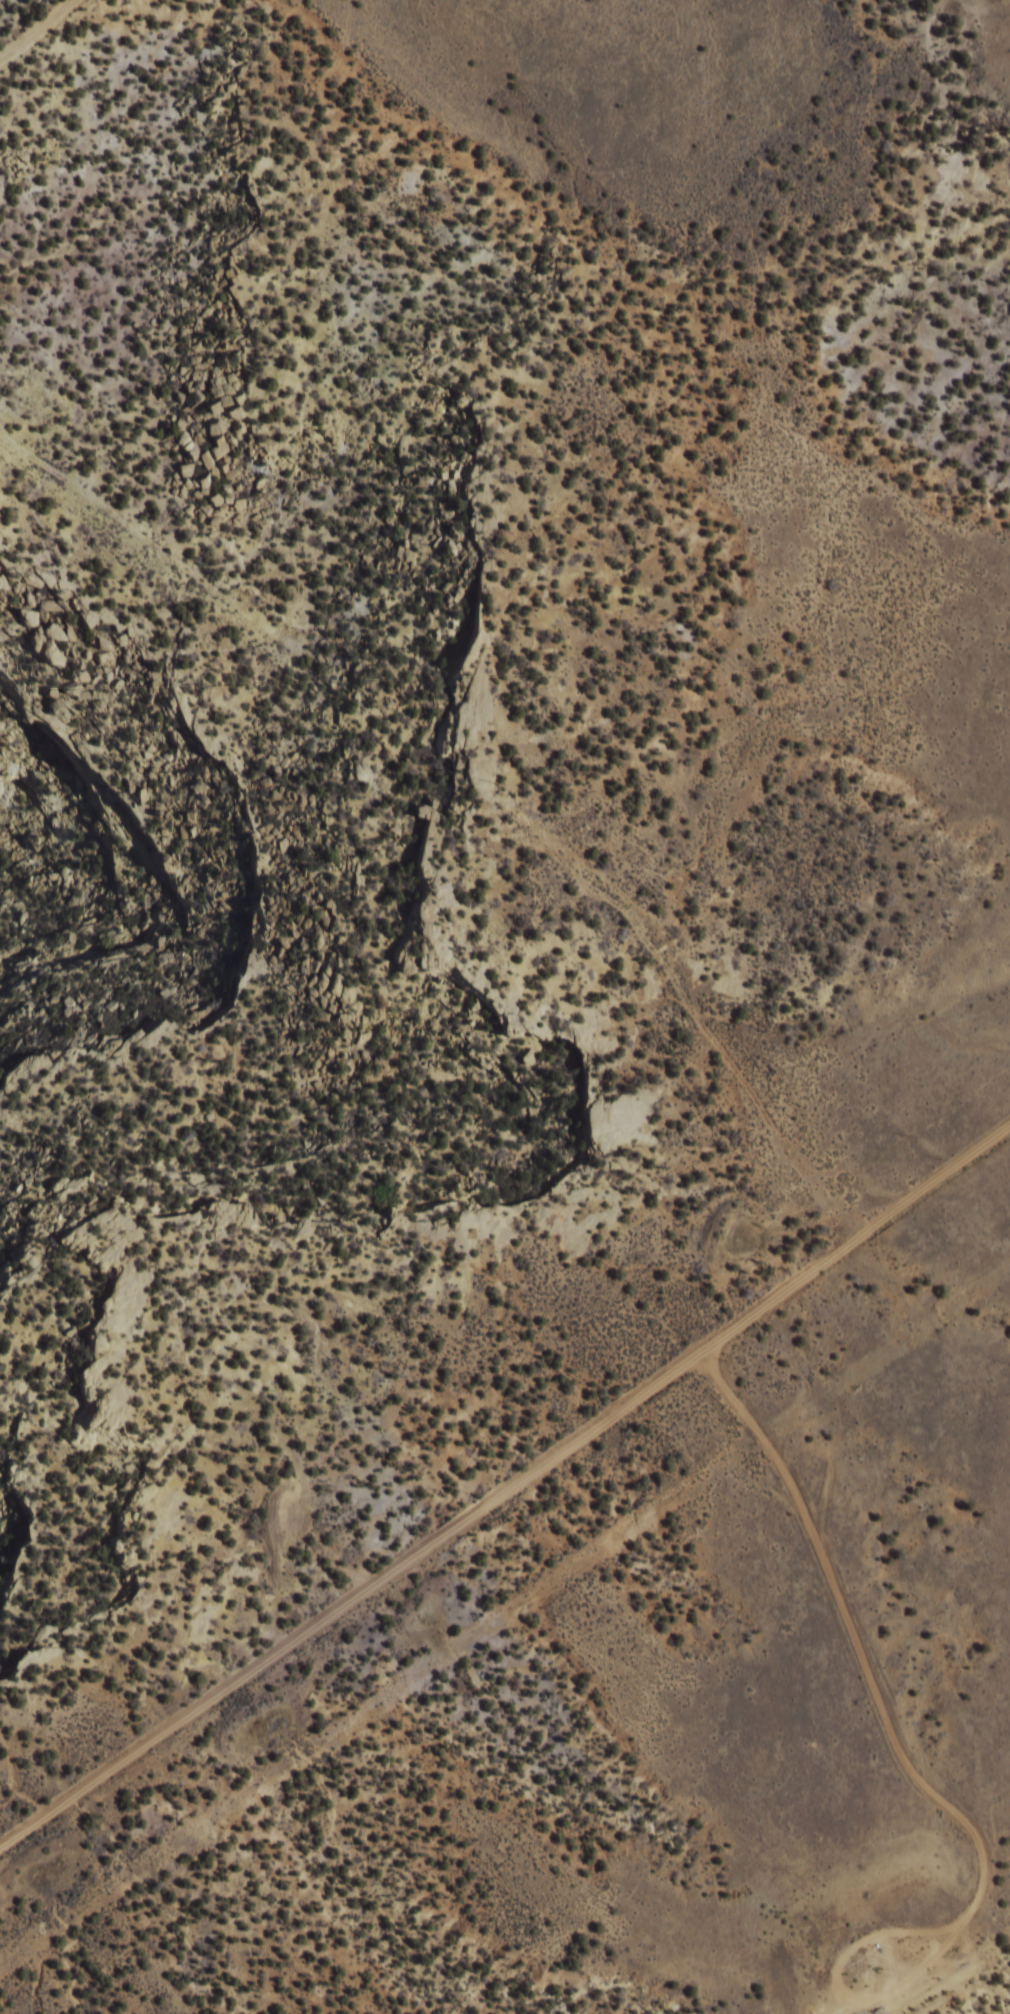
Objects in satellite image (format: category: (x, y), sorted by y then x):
road: (5, 8)
road: (505, 1466)

